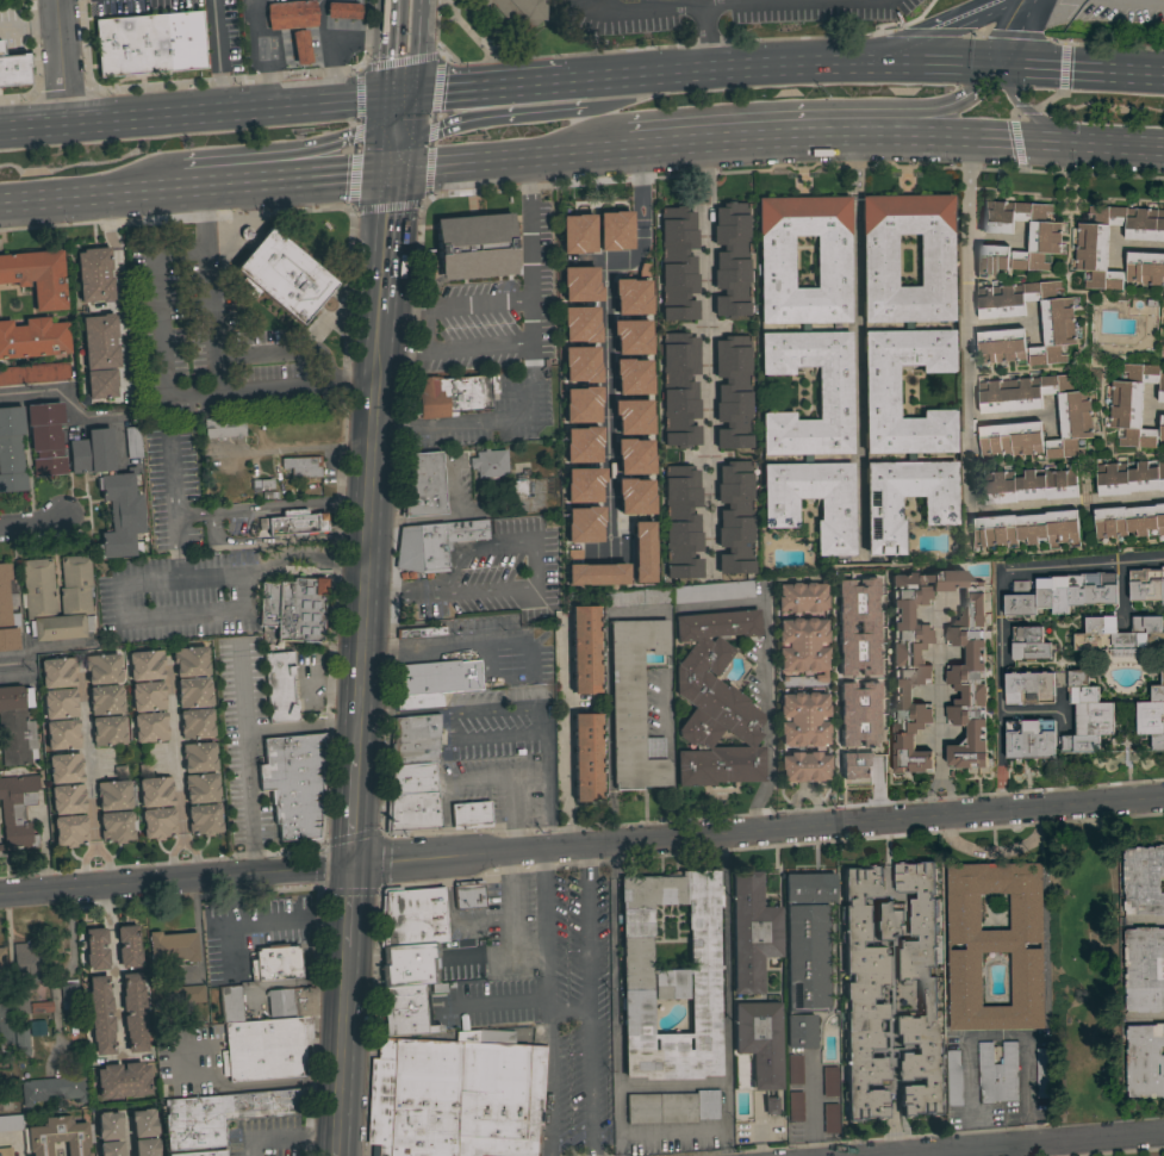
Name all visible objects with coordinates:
building: (1, 0)
road: (848, 0)
road: (805, 1)
road: (723, 2)
road: (765, 2)
road: (599, 4)
road: (685, 4)
road: (1128, 4)
road: (641, 5)
road: (735, 5)
building: (342, 10)
building: (518, 12)
parking lot: (723, 13)
building: (288, 14)
road: (465, 31)
road: (917, 31)
road: (1013, 31)
road: (708, 37)
building: (150, 44)
building: (300, 46)
gas station: (300, 46)
building: (0, 48)
road: (331, 48)
road: (384, 49)
road: (413, 49)
road: (639, 49)
road: (262, 56)
road: (219, 58)
road: (921, 62)
traffic signals: (1004, 63)
road: (776, 64)
road: (62, 67)
road: (1084, 68)
building: (13, 69)
road: (637, 74)
road: (485, 89)
traffic signals: (411, 98)
road: (396, 99)
traffic signals: (381, 100)
road: (398, 108)
road: (382, 110)
road: (550, 113)
road: (792, 117)
road: (1037, 118)
road: (191, 120)
road: (402, 132)
road: (833, 137)
traffic signals: (1021, 142)
road: (388, 143)
road: (1131, 147)
road: (250, 157)
road: (480, 159)
traffic signals: (392, 168)
road: (317, 176)
road: (527, 192)
road: (122, 200)
road: (390, 203)
building: (614, 230)
building: (577, 234)
building: (1044, 243)
building: (474, 246)
building: (832, 250)
building: (1091, 255)
building: (730, 260)
building: (879, 261)
building: (991, 261)
building: (677, 265)
building: (1145, 267)
building: (93, 274)
road: (385, 275)
building: (37, 276)
building: (282, 276)
building: (579, 284)
road: (528, 286)
building: (630, 297)
road: (478, 305)
road: (404, 311)
road: (382, 313)
road: (213, 322)
building: (579, 324)
road: (427, 330)
road: (381, 331)
road: (606, 332)
building: (1058, 332)
building: (630, 336)
building: (32, 338)
building: (98, 342)
road: (855, 342)
building: (1001, 346)
road: (477, 347)
road: (705, 347)
road: (403, 349)
road: (280, 352)
road: (379, 358)
building: (580, 363)
building: (33, 373)
building: (631, 375)
road: (163, 377)
road: (530, 377)
building: (100, 384)
building: (679, 390)
building: (880, 391)
building: (733, 392)
building: (834, 393)
building: (453, 394)
road: (68, 400)
building: (1134, 403)
building: (580, 404)
building: (631, 416)
road: (969, 423)
building: (223, 427)
road: (454, 427)
building: (1076, 427)
building: (1162, 428)
building: (45, 439)
building: (1010, 439)
building: (132, 442)
building: (581, 443)
road: (297, 448)
building: (11, 450)
building: (633, 455)
building: (488, 465)
building: (303, 467)
road: (335, 477)
building: (1128, 478)
building: (261, 484)
building: (583, 484)
building: (421, 485)
building: (517, 486)
building: (1028, 486)
building: (110, 493)
building: (634, 496)
road: (272, 505)
road: (172, 506)
building: (882, 508)
building: (779, 509)
building: (735, 517)
building: (1128, 521)
road: (35, 522)
building: (681, 522)
building: (293, 523)
building: (584, 523)
building: (1025, 529)
road: (274, 537)
building: (432, 543)
building: (641, 553)
road: (367, 560)
building: (595, 574)
road: (143, 582)
building: (1146, 585)
road: (525, 590)
building: (712, 592)
building: (1060, 593)
building: (637, 597)
building: (801, 597)
building: (38, 599)
building: (846, 607)
building: (293, 609)
road: (997, 609)
building: (7, 610)
building: (422, 614)
building: (418, 632)
building: (1121, 635)
road: (506, 639)
building: (1029, 645)
building: (803, 646)
building: (584, 650)
building: (193, 661)
road: (17, 664)
building: (148, 665)
building: (105, 669)
building: (911, 669)
building: (60, 672)
road: (767, 672)
building: (847, 672)
building: (435, 677)
road: (332, 684)
building: (279, 686)
building: (1029, 688)
building: (197, 694)
building: (150, 697)
building: (107, 700)
building: (416, 701)
building: (715, 701)
building: (62, 703)
building: (634, 706)
road: (938, 707)
road: (449, 710)
road: (876, 710)
building: (1087, 715)
building: (1152, 716)
building: (802, 719)
building: (199, 725)
building: (15, 726)
road: (299, 726)
building: (152, 729)
building: (111, 733)
road: (564, 733)
building: (64, 735)
building: (413, 739)
building: (1029, 739)
building: (851, 745)
road: (174, 752)
building: (201, 758)
building: (586, 758)
road: (87, 759)
road: (244, 763)
building: (803, 766)
building: (67, 769)
road: (546, 779)
road: (446, 783)
building: (294, 784)
building: (205, 789)
building: (157, 793)
building: (116, 797)
building: (410, 798)
building: (69, 800)
building: (17, 810)
road: (355, 810)
road: (517, 812)
building: (471, 815)
building: (207, 821)
building: (161, 825)
building: (119, 828)
building: (71, 832)
road: (181, 846)
road: (581, 846)
building: (1, 847)
road: (41, 847)
road: (81, 865)
road: (106, 865)
traffic signals: (353, 866)
building: (1144, 881)
building: (809, 888)
building: (468, 895)
road: (349, 905)
road: (104, 907)
building: (411, 916)
building: (888, 920)
road: (1146, 920)
road: (266, 921)
road: (544, 924)
road: (220, 925)
road: (584, 930)
road: (509, 932)
building: (752, 932)
building: (126, 945)
building: (996, 945)
building: (172, 946)
building: (95, 949)
road: (230, 950)
road: (528, 955)
building: (2, 958)
building: (29, 959)
building: (275, 962)
building: (409, 965)
road: (68, 968)
building: (1144, 969)
building: (804, 971)
park: (1085, 974)
building: (670, 976)
road: (1067, 976)
road: (724, 980)
building: (437, 988)
building: (68, 993)
road: (114, 993)
building: (188, 994)
building: (861, 997)
building: (927, 997)
road: (524, 1000)
road: (611, 1000)
building: (291, 1001)
building: (229, 1005)
building: (19, 1007)
building: (41, 1007)
building: (404, 1011)
building: (132, 1012)
building: (100, 1014)
road: (1145, 1019)
building: (889, 1020)
building: (38, 1027)
building: (5, 1028)
road: (995, 1034)
building: (21, 1038)
building: (759, 1042)
building: (266, 1049)
road: (342, 1050)
building: (1145, 1061)
building: (793, 1069)
building: (997, 1073)
building: (1044, 1073)
building: (952, 1077)
building: (122, 1080)
building: (829, 1081)
road: (222, 1083)
road: (549, 1083)
road: (586, 1086)
building: (52, 1089)
building: (454, 1096)
building: (771, 1106)
building: (795, 1106)
building: (672, 1107)
road: (810, 1110)
building: (223, 1114)
building: (830, 1118)
building: (10, 1123)
building: (143, 1123)
building: (108, 1126)
road: (671, 1129)
road: (287, 1136)
road: (17, 1137)
building: (56, 1137)
road: (726, 1141)
road: (1027, 1144)
building: (145, 1146)
building: (110, 1149)
road: (1063, 1149)
road: (1023, 1150)
building: (5, 1151)
building: (203, 1154)
road: (935, 1154)

